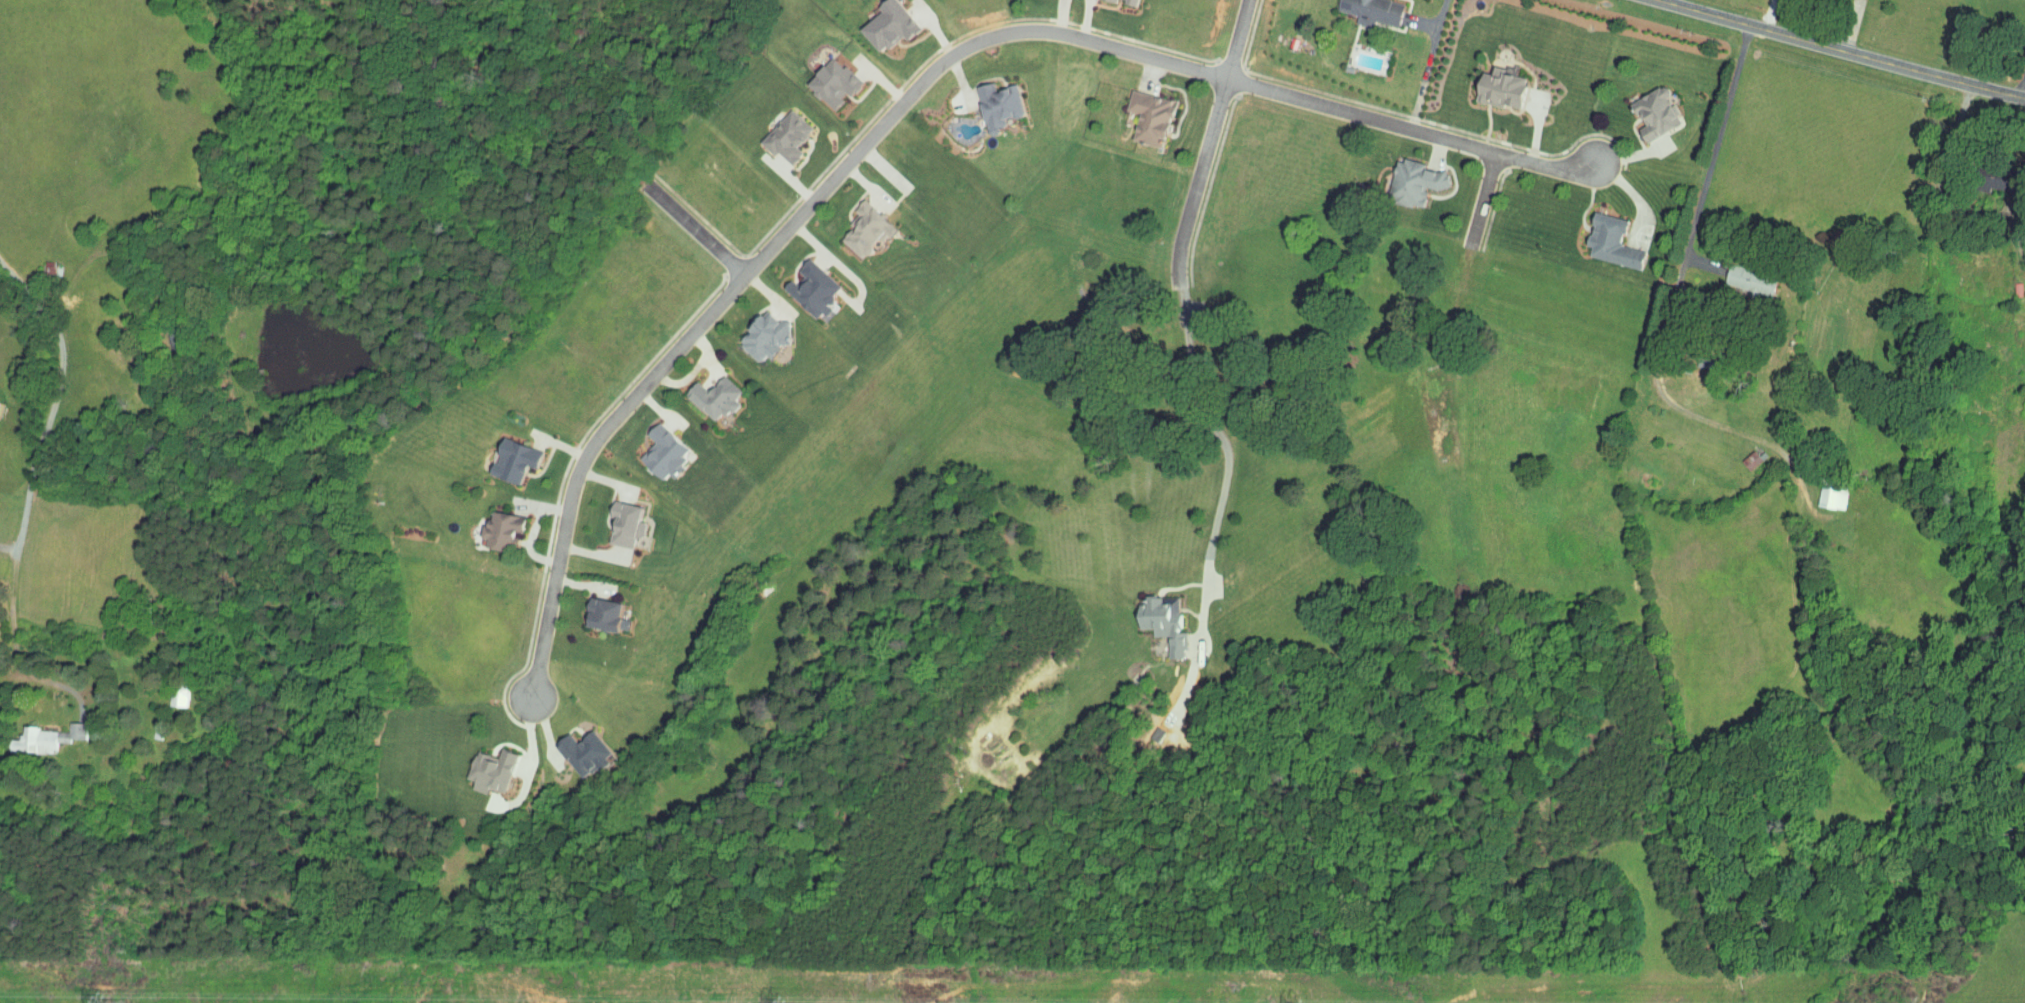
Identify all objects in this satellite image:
building: (1360, 8)
road: (1768, 15)
building: (873, 20)
road: (1838, 50)
road: (1426, 64)
building: (817, 76)
building: (1484, 82)
road: (2021, 87)
building: (983, 97)
road: (908, 98)
building: (1640, 106)
building: (1135, 110)
building: (772, 130)
road: (1207, 142)
road: (1947, 147)
road: (1711, 158)
building: (1398, 175)
road: (1481, 199)
building: (851, 223)
road: (694, 227)
building: (1596, 235)
building: (1735, 274)
building: (798, 282)
road: (37, 300)
building: (749, 330)
building: (700, 391)
building: (647, 447)
building: (498, 454)
road: (1226, 459)
building: (611, 518)
building: (487, 524)
road: (20, 538)
building: (589, 609)
building: (1148, 616)
building: (166, 691)
building: (35, 732)
building: (569, 747)
building: (475, 765)

